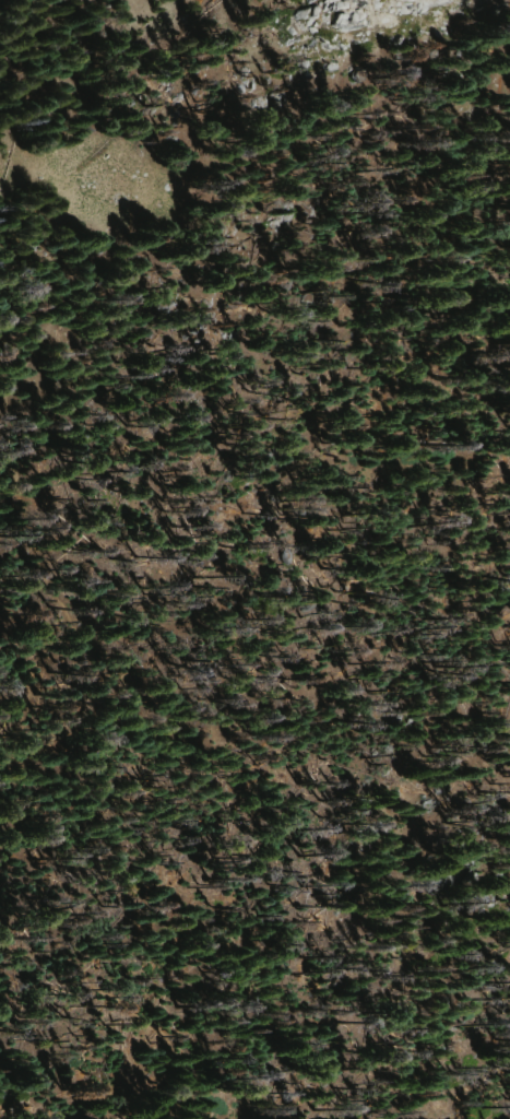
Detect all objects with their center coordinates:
road: (26, 758)

